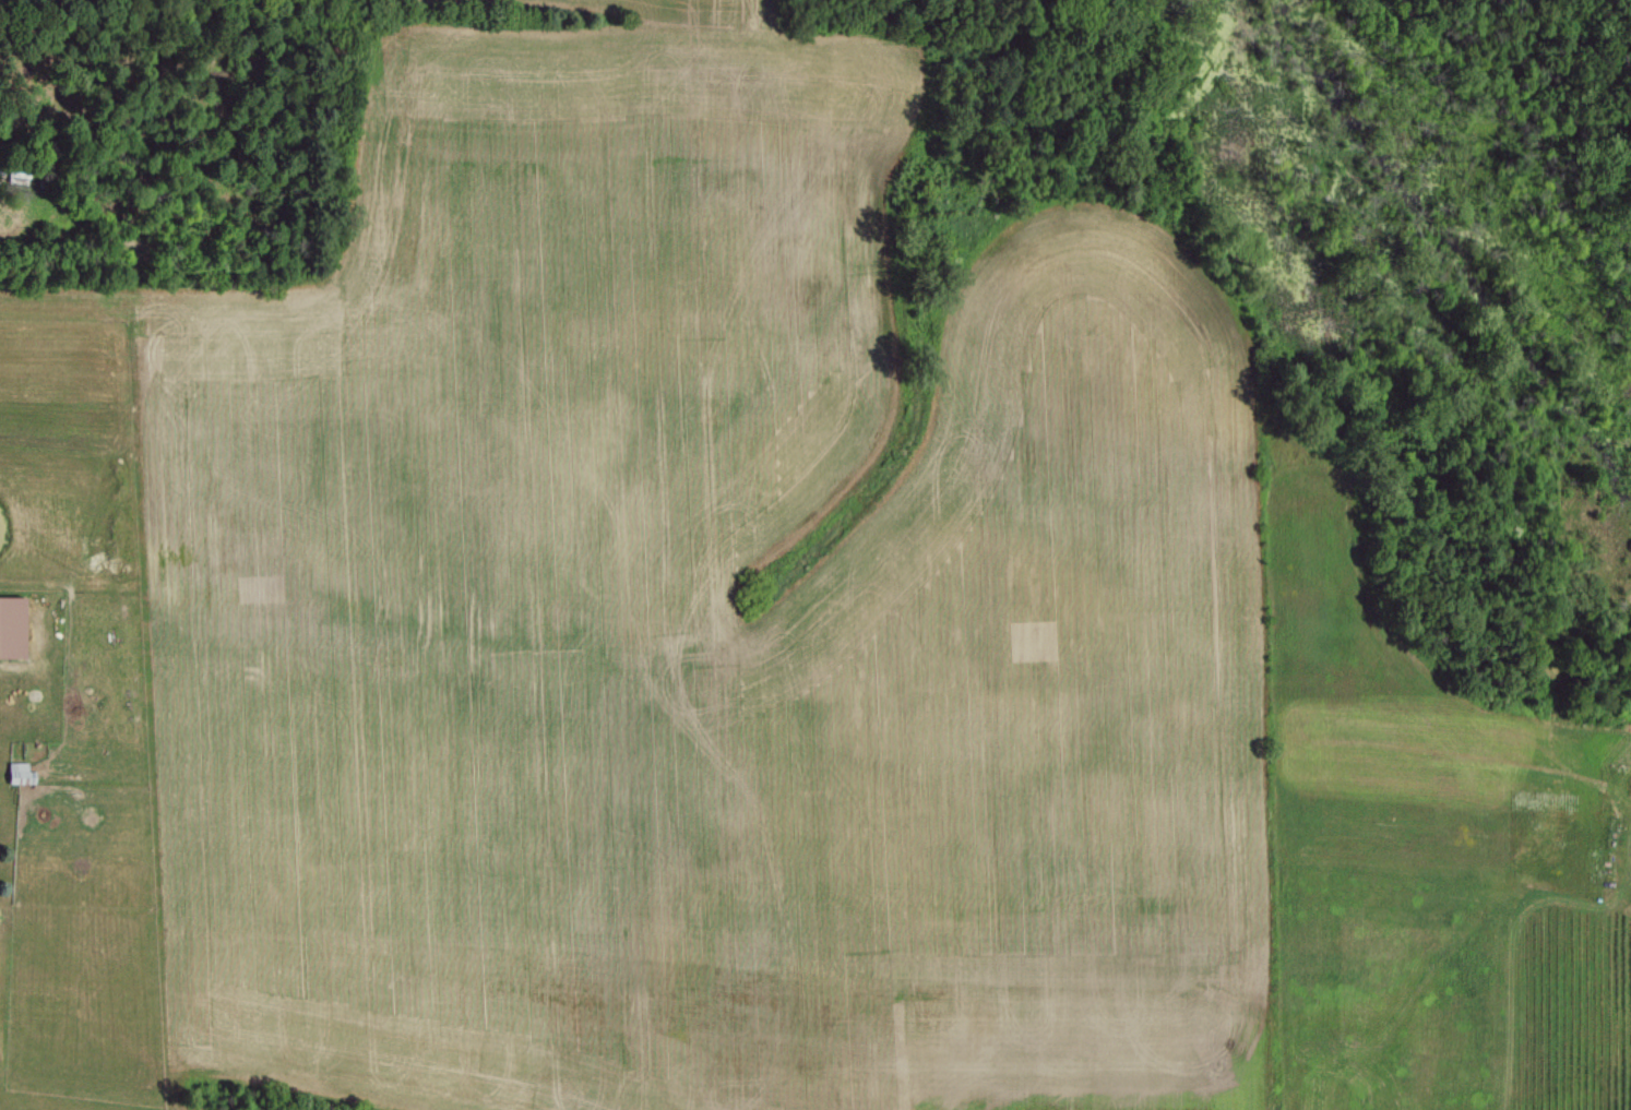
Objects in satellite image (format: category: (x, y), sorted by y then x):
building: (11, 626)
building: (20, 773)

